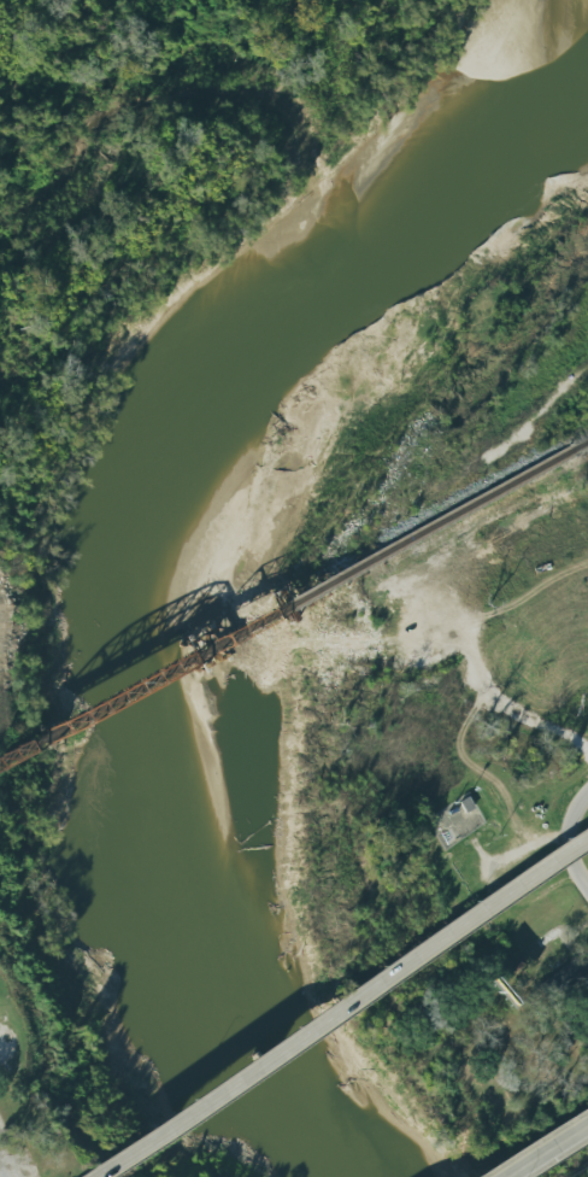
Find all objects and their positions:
railway: (578, 446)
river: (164, 533)
railway: (284, 607)
road: (569, 838)
building: (576, 972)
road: (342, 1007)
road: (546, 1150)
road: (6, 1163)
building: (54, 1167)

